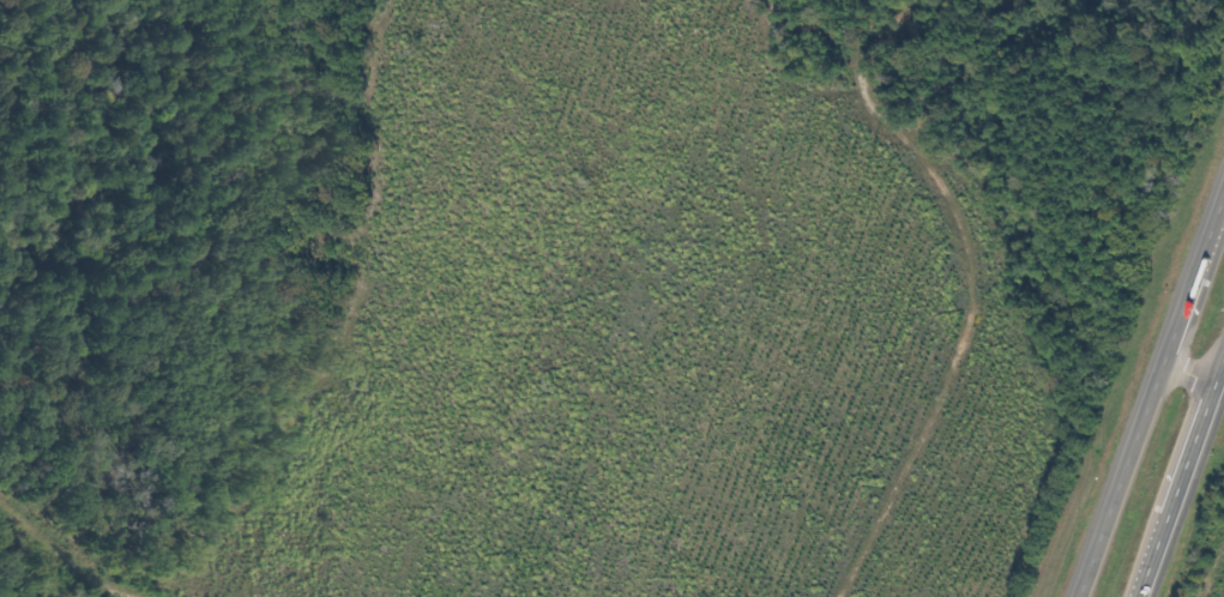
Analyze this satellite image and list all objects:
road: (1188, 368)
road: (1219, 379)
road: (1148, 393)
road: (1180, 474)

